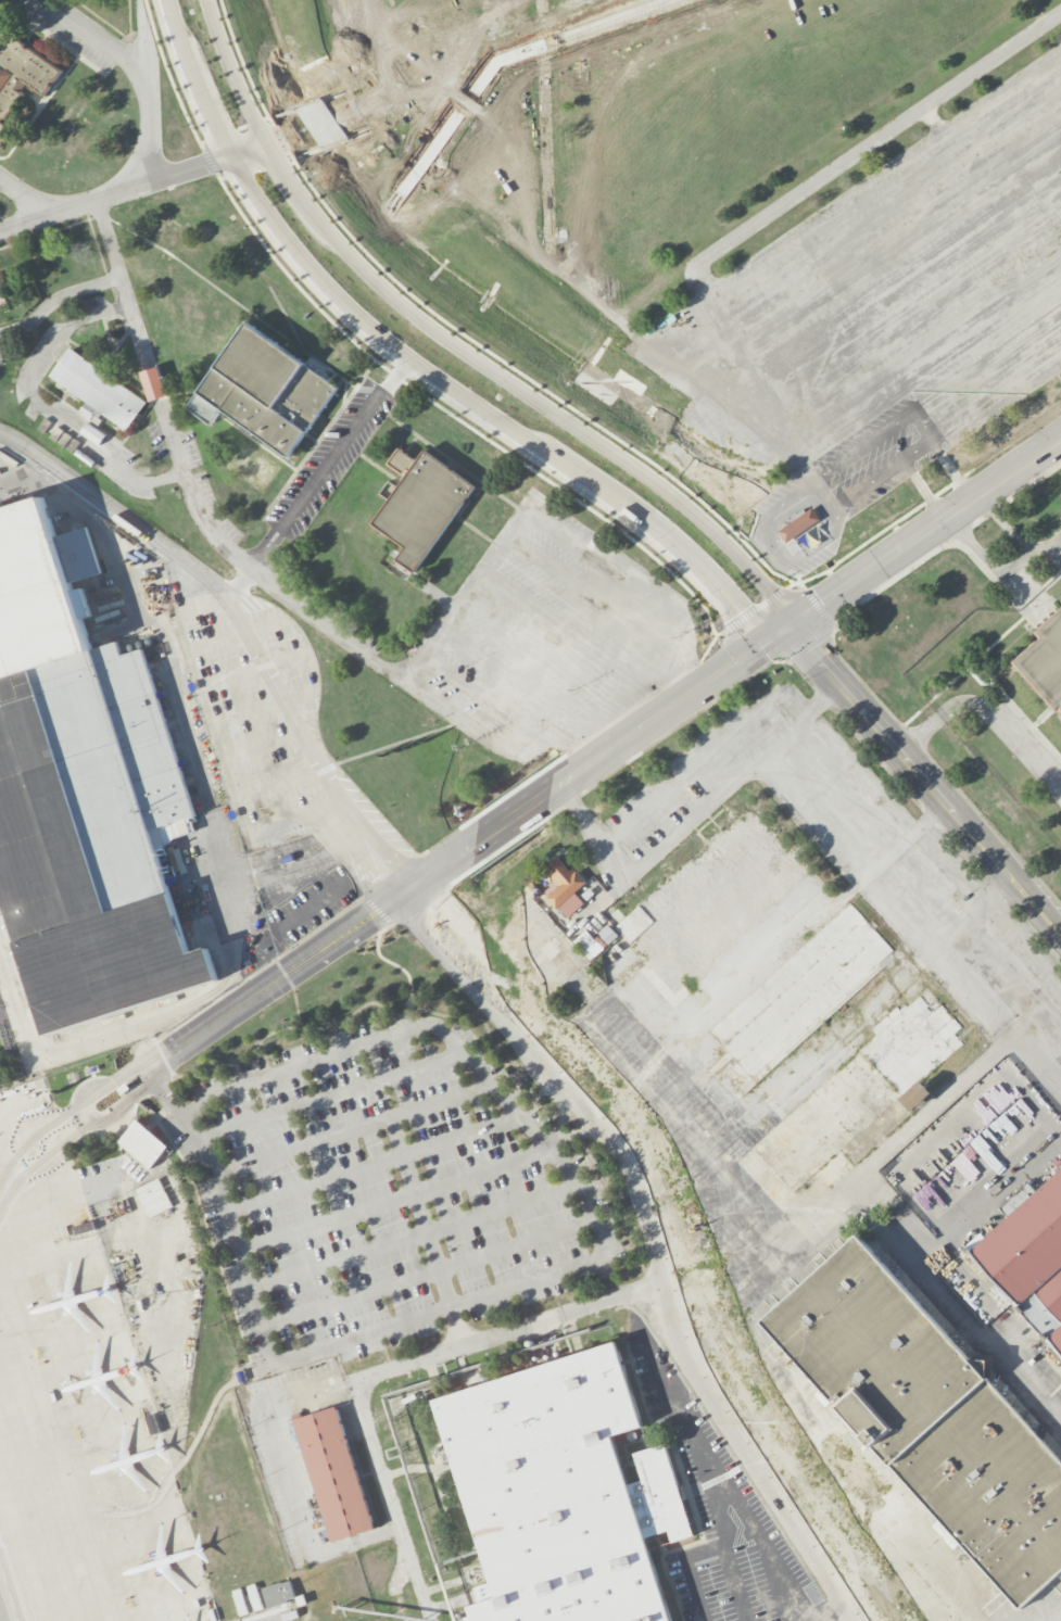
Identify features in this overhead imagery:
road: (620, 16)
road: (542, 22)
road: (137, 71)
building: (22, 74)
road: (232, 74)
road: (194, 79)
road: (404, 93)
road: (450, 118)
road: (132, 187)
road: (27, 197)
road: (774, 258)
road: (721, 267)
building: (1, 291)
road: (687, 295)
road: (59, 301)
road: (658, 327)
building: (0, 356)
building: (153, 383)
building: (98, 389)
road: (525, 390)
building: (264, 391)
road: (42, 409)
building: (88, 410)
road: (951, 411)
road: (492, 414)
road: (330, 463)
building: (422, 508)
building: (797, 525)
road: (561, 535)
road: (924, 535)
road: (243, 561)
road: (463, 596)
road: (241, 628)
traffic signals: (788, 629)
building: (1045, 663)
road: (662, 668)
road: (761, 705)
road: (987, 715)
road: (801, 720)
road: (870, 720)
building: (83, 794)
road: (814, 813)
road: (924, 820)
road: (656, 852)
road: (886, 853)
road: (451, 861)
road: (1006, 873)
building: (565, 887)
building: (710, 899)
road: (971, 910)
building: (594, 941)
road: (963, 977)
building: (799, 991)
road: (442, 1014)
road: (339, 1025)
building: (912, 1047)
road: (509, 1058)
road: (304, 1063)
road: (164, 1092)
road: (940, 1103)
road: (528, 1113)
road: (352, 1128)
building: (785, 1131)
building: (143, 1144)
road: (374, 1167)
building: (834, 1167)
building: (779, 1188)
parking lot: (386, 1190)
road: (393, 1200)
road: (426, 1233)
road: (652, 1243)
building: (1030, 1254)
road: (776, 1265)
road: (962, 1277)
road: (506, 1335)
airport: (169, 1404)
airport apron: (75, 1409)
building: (931, 1414)
building: (334, 1473)
building: (554, 1493)
road: (393, 1504)
road: (751, 1527)
road: (702, 1552)
road: (734, 1583)
building: (278, 1593)
building: (254, 1597)
building: (240, 1601)
road: (1047, 1607)
road: (835, 1612)

